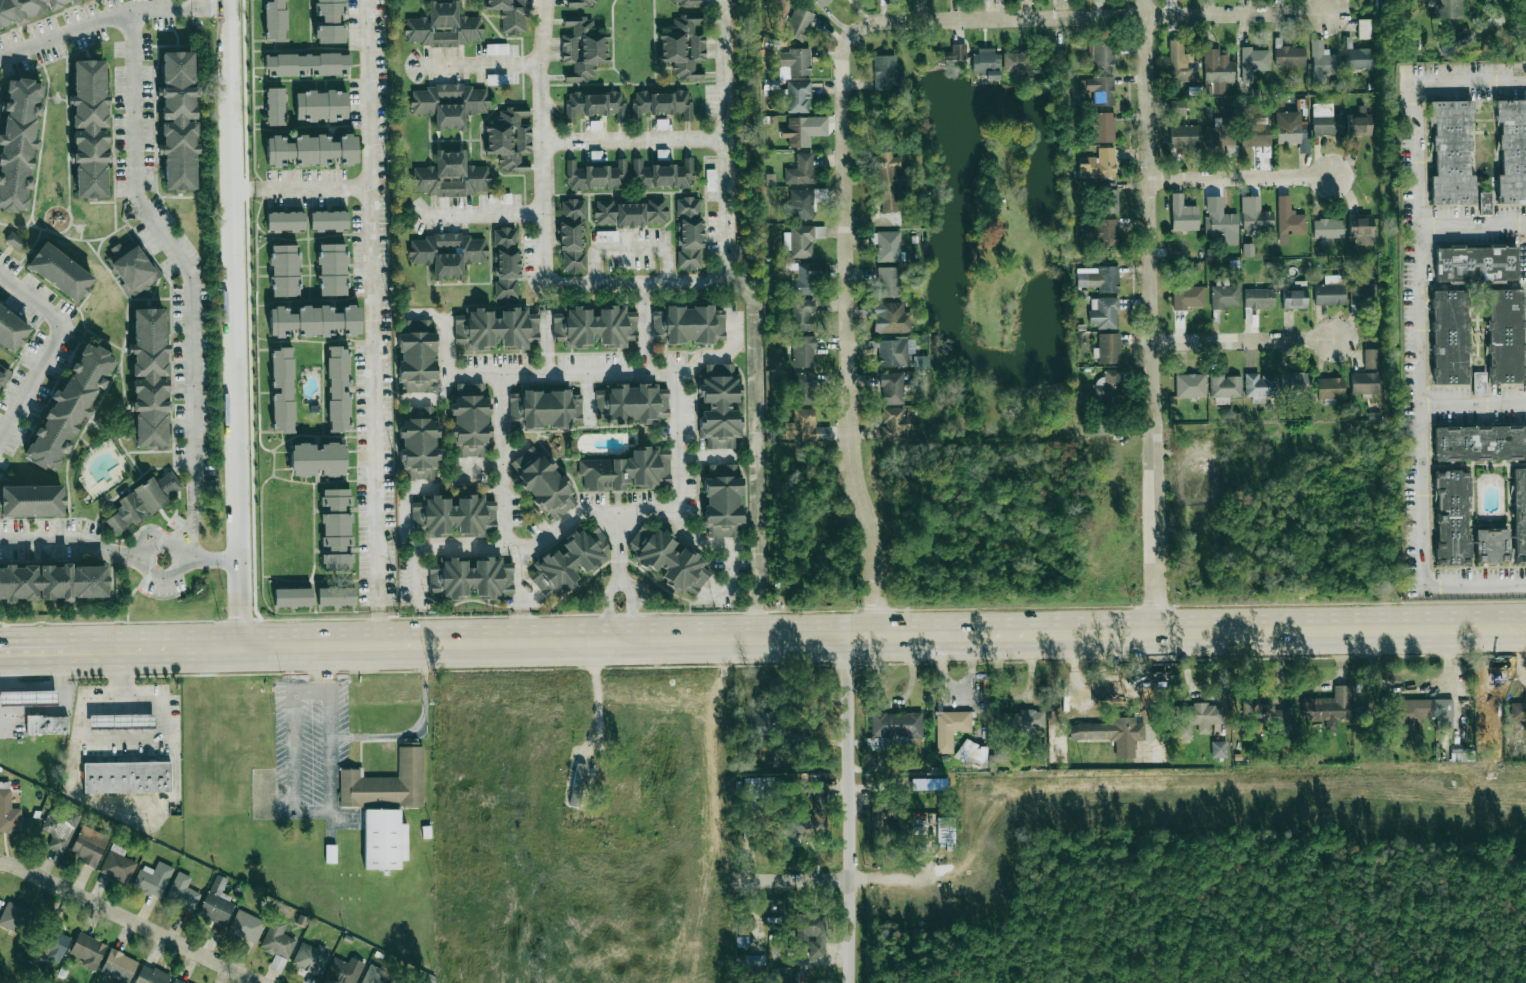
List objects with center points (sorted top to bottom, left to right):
building: (1098, 0)
building: (686, 2)
building: (820, 2)
building: (580, 3)
building: (25, 9)
building: (1449, 9)
road: (210, 10)
road: (1497, 12)
building: (511, 14)
road: (1091, 19)
building: (275, 20)
building: (329, 21)
road: (94, 23)
building: (798, 24)
building: (443, 26)
building: (1364, 29)
building: (1462, 38)
building: (682, 46)
building: (581, 49)
building: (957, 51)
building: (1102, 56)
building: (1289, 56)
building: (1358, 59)
building: (1255, 60)
building: (795, 61)
building: (1058, 61)
building: (1323, 63)
building: (307, 64)
road: (481, 64)
building: (985, 64)
building: (1019, 64)
building: (1217, 67)
building: (1184, 71)
building: (887, 73)
road: (1472, 81)
building: (1100, 89)
building: (798, 97)
building: (449, 104)
building: (660, 104)
building: (321, 105)
building: (594, 105)
building: (275, 106)
building: (1177, 107)
building: (181, 122)
building: (1327, 124)
building: (1358, 126)
building: (1103, 127)
building: (1290, 128)
building: (94, 131)
building: (798, 132)
building: (1255, 135)
building: (1184, 136)
building: (1223, 136)
building: (510, 138)
road: (633, 140)
road: (724, 140)
building: (20, 146)
building: (311, 150)
building: (1511, 152)
building: (1450, 153)
building: (1098, 164)
building: (800, 169)
building: (662, 175)
building: (450, 176)
building: (595, 176)
road: (1242, 178)
building: (711, 180)
road: (305, 188)
building: (891, 194)
building: (1106, 199)
building: (1486, 203)
building: (801, 204)
building: (629, 213)
road: (484, 214)
building: (1183, 215)
building: (329, 220)
building: (1257, 220)
building: (285, 221)
building: (1223, 223)
building: (1292, 223)
road: (1473, 224)
building: (1328, 228)
building: (1361, 230)
building: (1103, 232)
building: (688, 233)
building: (572, 235)
building: (607, 236)
building: (15, 241)
building: (801, 242)
building: (886, 245)
road: (630, 252)
building: (446, 253)
road: (176, 255)
building: (506, 263)
building: (1477, 264)
building: (134, 269)
building: (332, 269)
building: (285, 270)
building: (62, 275)
building: (806, 278)
building: (1102, 279)
road: (683, 282)
building: (887, 282)
building: (1362, 294)
building: (1225, 295)
building: (1188, 298)
building: (1258, 299)
building: (1293, 299)
building: (1103, 313)
road: (1152, 315)
building: (801, 316)
building: (890, 318)
building: (314, 321)
road: (378, 324)
building: (686, 325)
road: (237, 326)
building: (593, 327)
building: (497, 328)
road: (646, 328)
building: (12, 331)
road: (1421, 332)
building: (1505, 337)
road: (844, 338)
building: (1448, 338)
road: (546, 339)
road: (1245, 345)
road: (47, 349)
building: (1108, 349)
building: (803, 352)
building: (893, 354)
road: (445, 355)
road: (615, 372)
building: (1366, 375)
building: (5, 377)
building: (152, 380)
building: (1294, 383)
building: (1479, 383)
building: (1190, 386)
building: (1225, 386)
building: (1261, 386)
building: (1108, 387)
building: (892, 388)
building: (339, 389)
building: (805, 389)
building: (1330, 389)
building: (282, 390)
road: (587, 397)
building: (630, 404)
road: (1473, 405)
building: (716, 406)
building: (545, 408)
building: (72, 410)
building: (471, 420)
building: (1101, 420)
building: (894, 424)
building: (805, 427)
building: (1480, 444)
road: (706, 455)
building: (1201, 458)
building: (318, 459)
road: (498, 459)
road: (471, 467)
building: (627, 471)
road: (679, 478)
building: (544, 484)
building: (719, 500)
building: (34, 502)
building: (145, 503)
building: (453, 515)
building: (1519, 516)
building: (1450, 519)
road: (190, 529)
building: (336, 530)
road: (59, 539)
road: (549, 540)
building: (1490, 546)
road: (619, 548)
road: (129, 554)
road: (215, 559)
road: (140, 560)
building: (666, 560)
building: (570, 562)
building: (471, 577)
road: (734, 578)
road: (618, 582)
road: (1474, 582)
building: (54, 584)
building: (336, 596)
road: (522, 596)
building: (293, 597)
road: (795, 638)
road: (32, 657)
road: (318, 670)
road: (15, 671)
road: (122, 676)
road: (32, 683)
road: (12, 687)
road: (28, 687)
road: (43, 687)
road: (43, 697)
road: (12, 698)
building: (28, 698)
road: (28, 698)
road: (597, 701)
road: (120, 705)
road: (140, 705)
road: (103, 706)
road: (44, 707)
road: (12, 708)
road: (28, 708)
building: (1320, 709)
road: (58, 710)
building: (1423, 711)
building: (1518, 711)
road: (209, 713)
building: (1266, 716)
building: (1197, 719)
road: (3, 721)
road: (103, 721)
road: (120, 721)
building: (122, 721)
road: (140, 721)
building: (1021, 722)
building: (955, 724)
building: (47, 725)
building: (765, 725)
building: (896, 725)
building: (1102, 730)
road: (417, 731)
road: (103, 732)
road: (121, 732)
road: (140, 732)
road: (122, 736)
building: (1219, 749)
building: (1124, 750)
building: (972, 752)
building: (1460, 752)
road: (292, 762)
building: (127, 777)
building: (387, 782)
building: (760, 787)
building: (617, 793)
building: (817, 794)
road: (127, 805)
road: (847, 809)
building: (8, 814)
building: (806, 825)
building: (58, 830)
building: (385, 839)
building: (89, 845)
building: (118, 865)
building: (153, 879)
road: (848, 880)
building: (182, 892)
building: (217, 902)
building: (15, 917)
road: (130, 921)
building: (247, 926)
building: (277, 944)
building: (54, 946)
building: (817, 947)
building: (88, 950)
building: (310, 958)
building: (119, 966)
building: (756, 968)
building: (343, 970)
building: (151, 975)
building: (373, 975)
building: (787, 975)
building: (177, 981)

